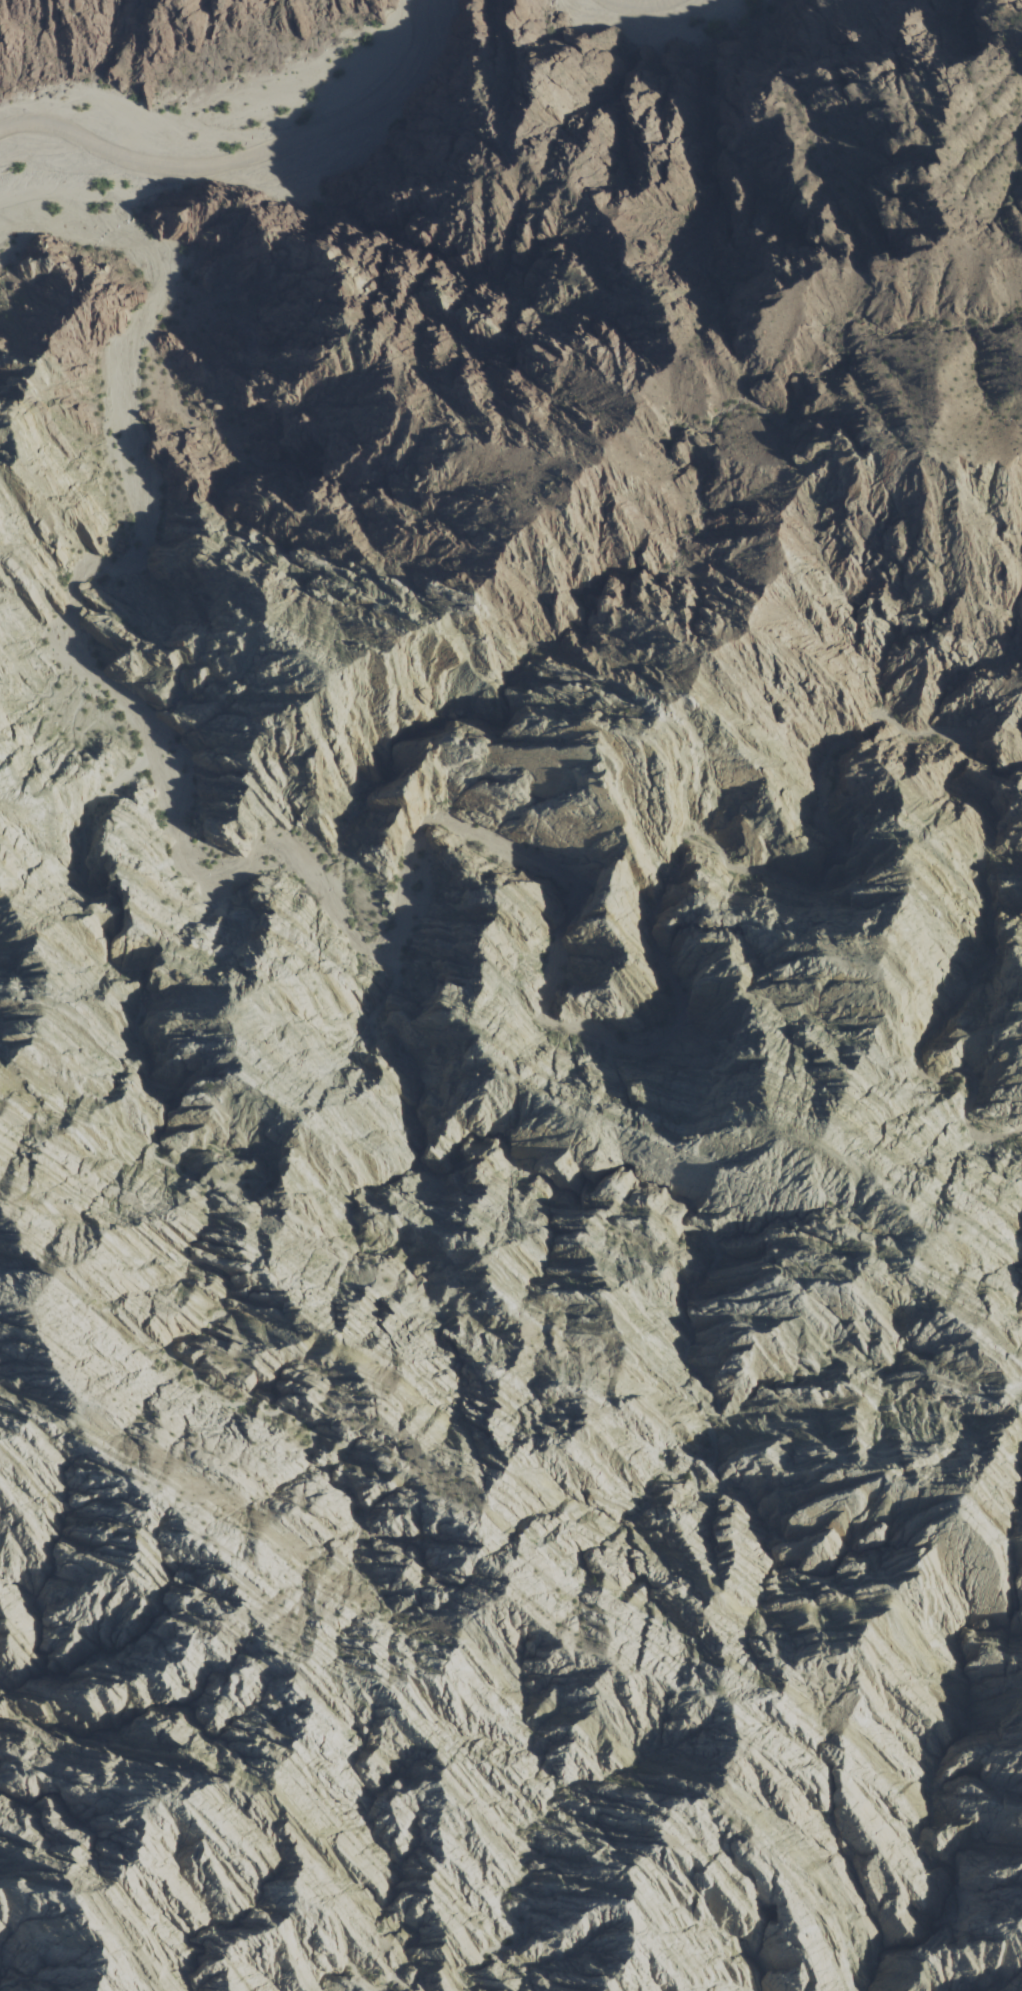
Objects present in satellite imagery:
road: (630, 4)
road: (239, 167)

